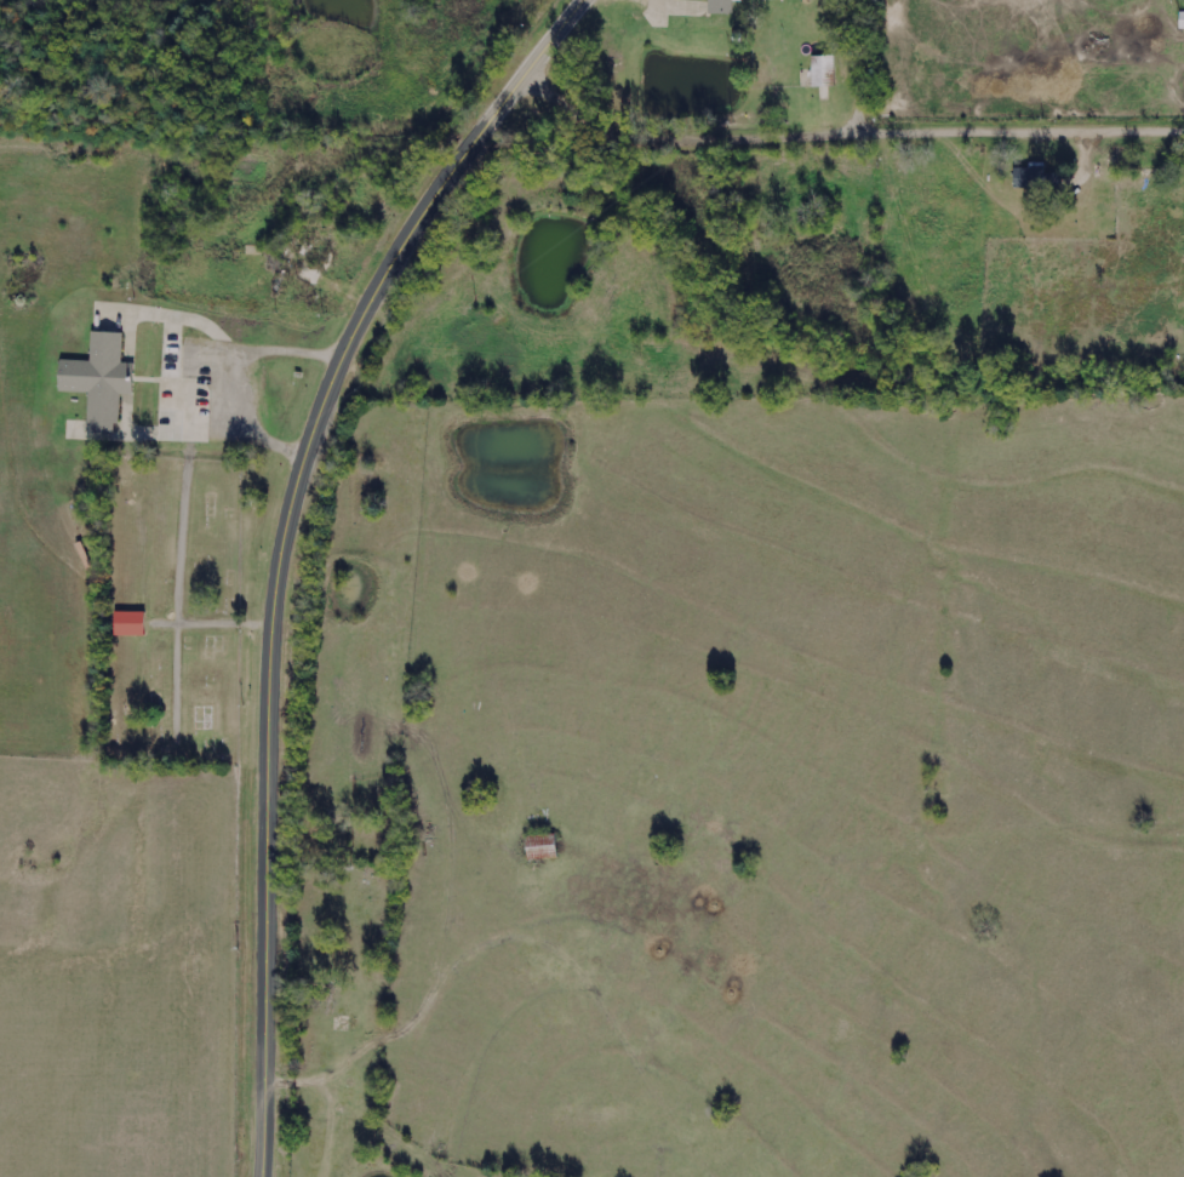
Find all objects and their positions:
building: (720, 6)
building: (1180, 21)
road: (874, 69)
building: (823, 72)
road: (841, 139)
building: (1035, 177)
building: (99, 379)
road: (281, 545)
park: (164, 618)
building: (130, 623)
building: (540, 846)

